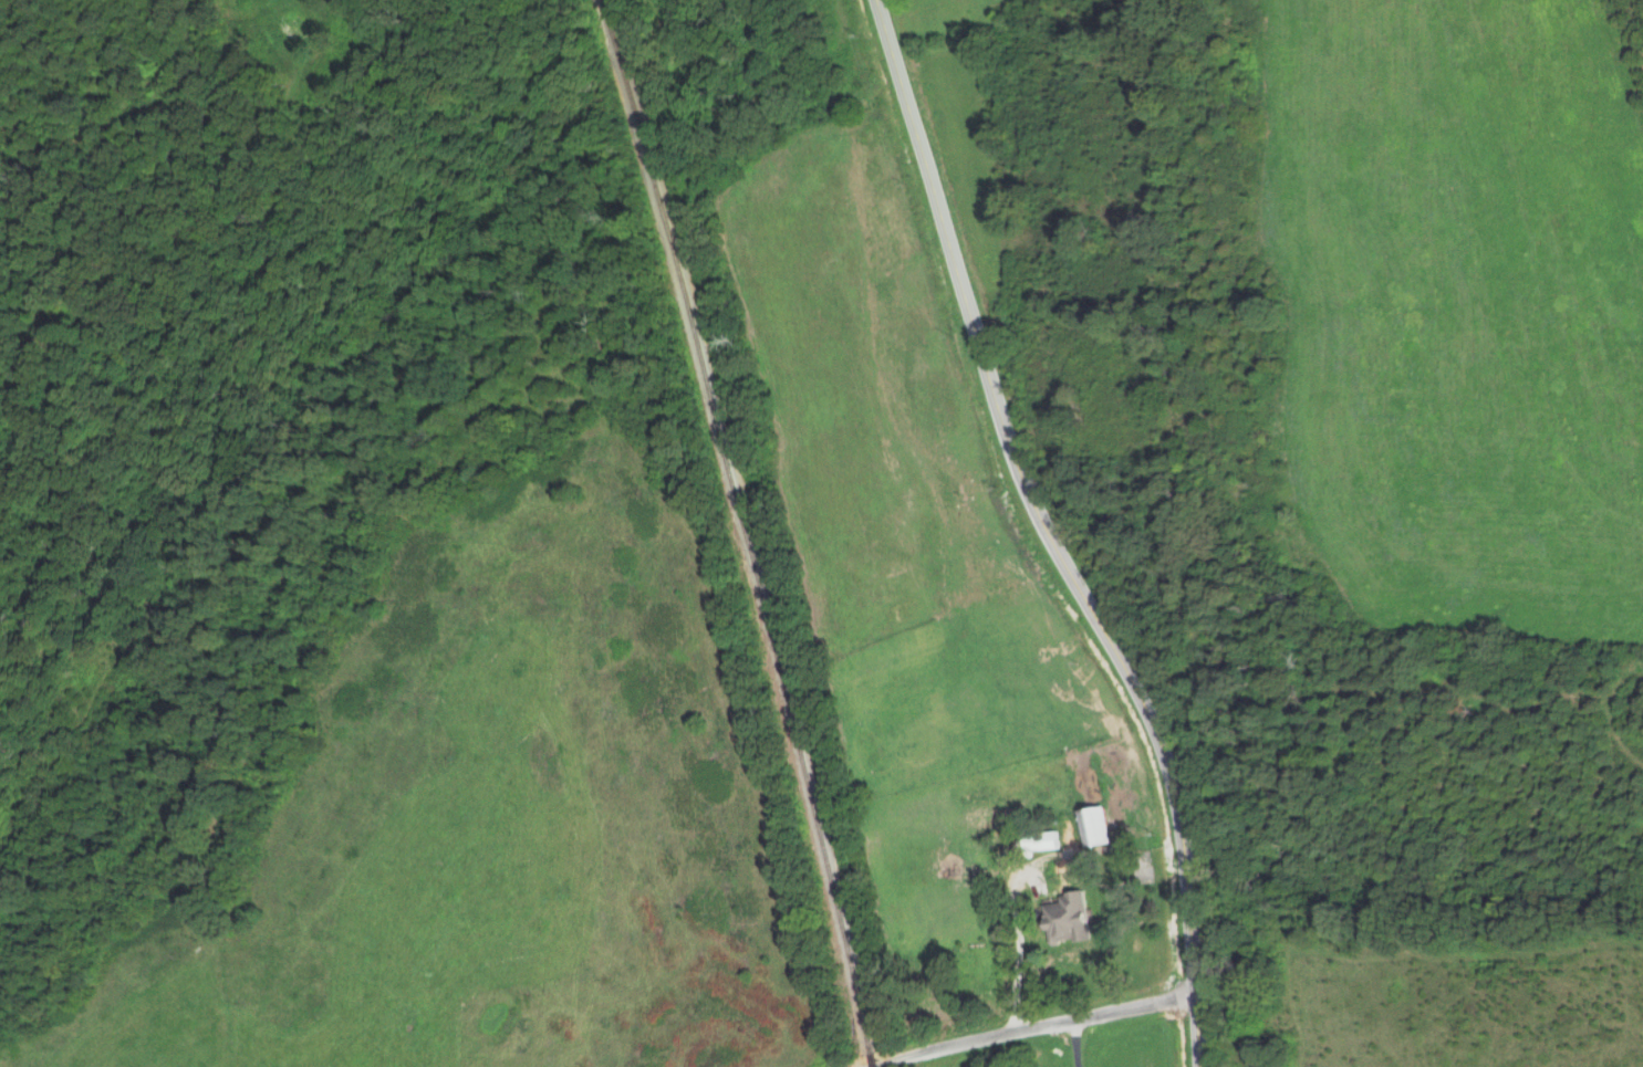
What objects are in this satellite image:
railway: (740, 521)
road: (1054, 535)
building: (1095, 827)
building: (1044, 840)
road: (1141, 871)
building: (1069, 877)
building: (1071, 918)
road: (1034, 1024)
road: (1077, 1042)
railway: (874, 1057)

